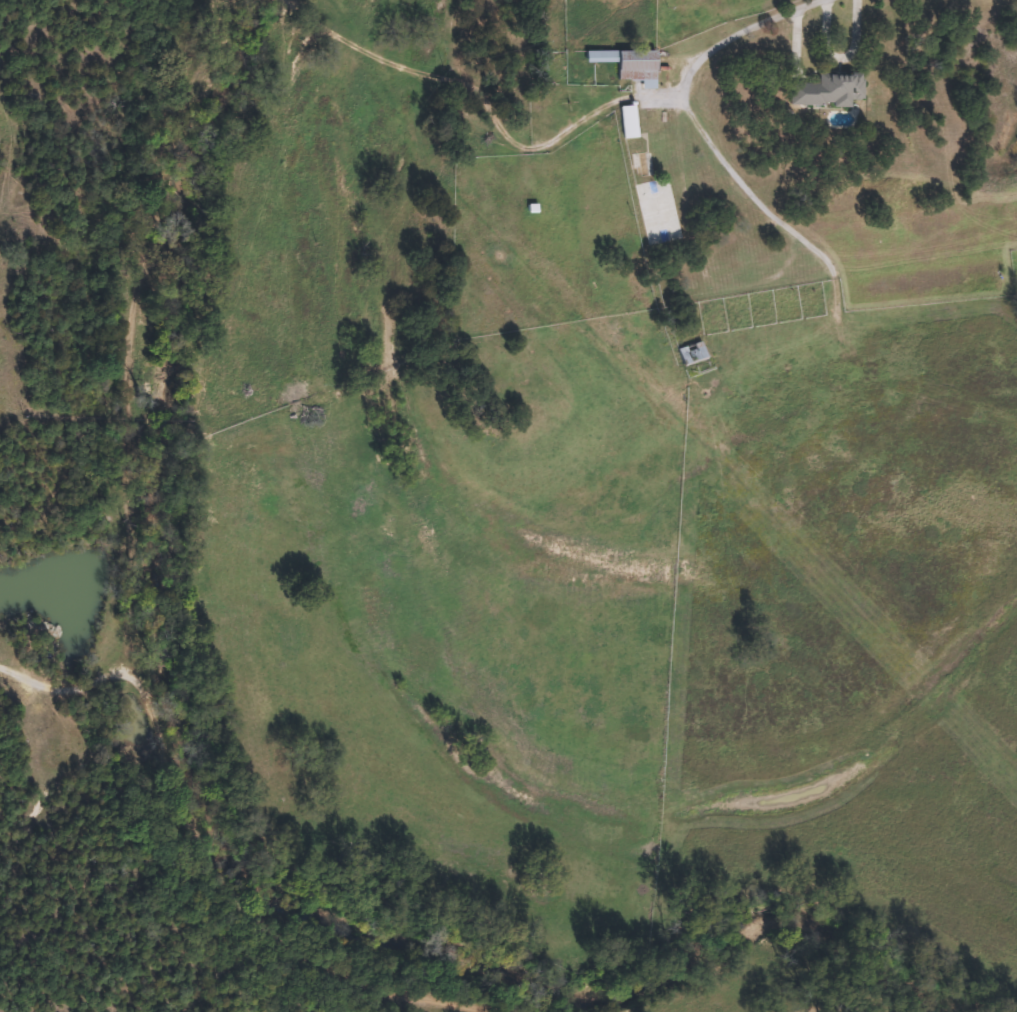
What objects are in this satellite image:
road: (768, 17)
building: (629, 64)
building: (830, 90)
building: (627, 121)
road: (727, 157)
building: (638, 165)
building: (691, 353)

